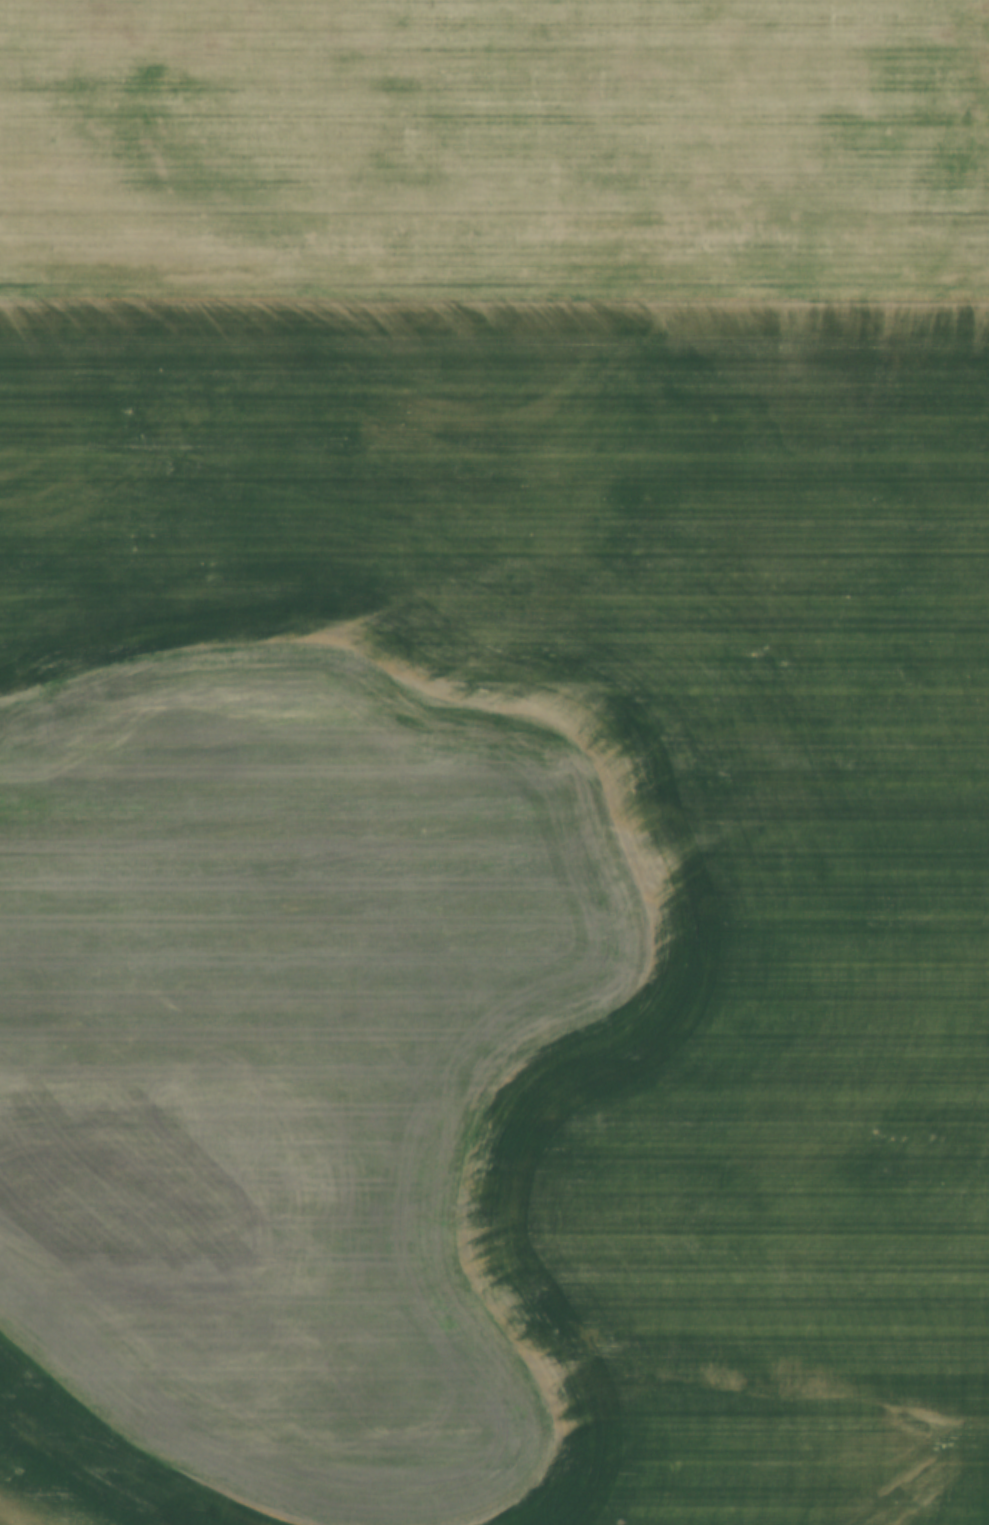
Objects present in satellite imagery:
road: (494, 302)

